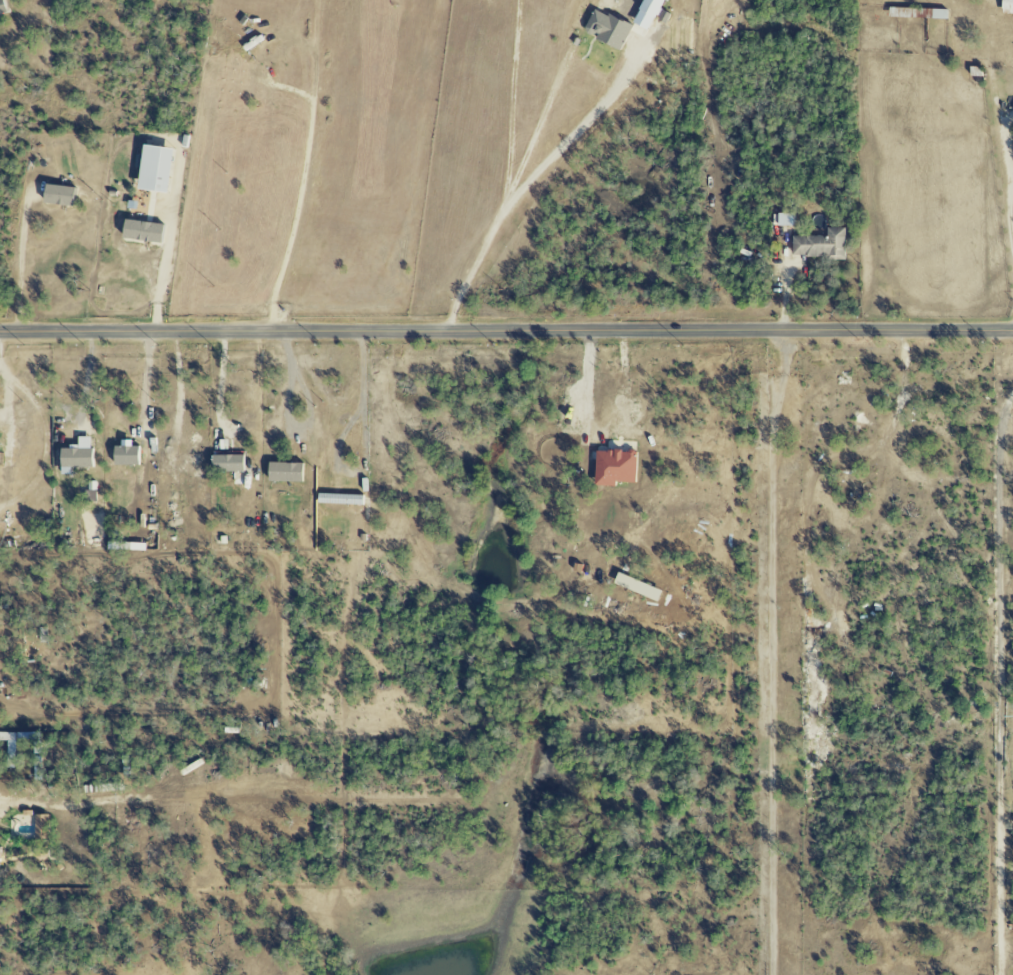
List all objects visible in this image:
building: (649, 7)
building: (1006, 7)
building: (1, 8)
building: (936, 14)
building: (606, 29)
building: (153, 169)
road: (511, 188)
building: (57, 195)
building: (784, 220)
building: (141, 231)
road: (168, 241)
building: (820, 245)
road: (21, 264)
road: (506, 335)
road: (221, 384)
road: (600, 431)
road: (48, 434)
road: (369, 452)
building: (76, 454)
building: (125, 455)
building: (225, 463)
building: (613, 468)
building: (283, 472)
building: (89, 492)
road: (776, 653)
road: (1001, 684)
building: (12, 754)
road: (65, 804)
building: (40, 834)
building: (0, 851)

